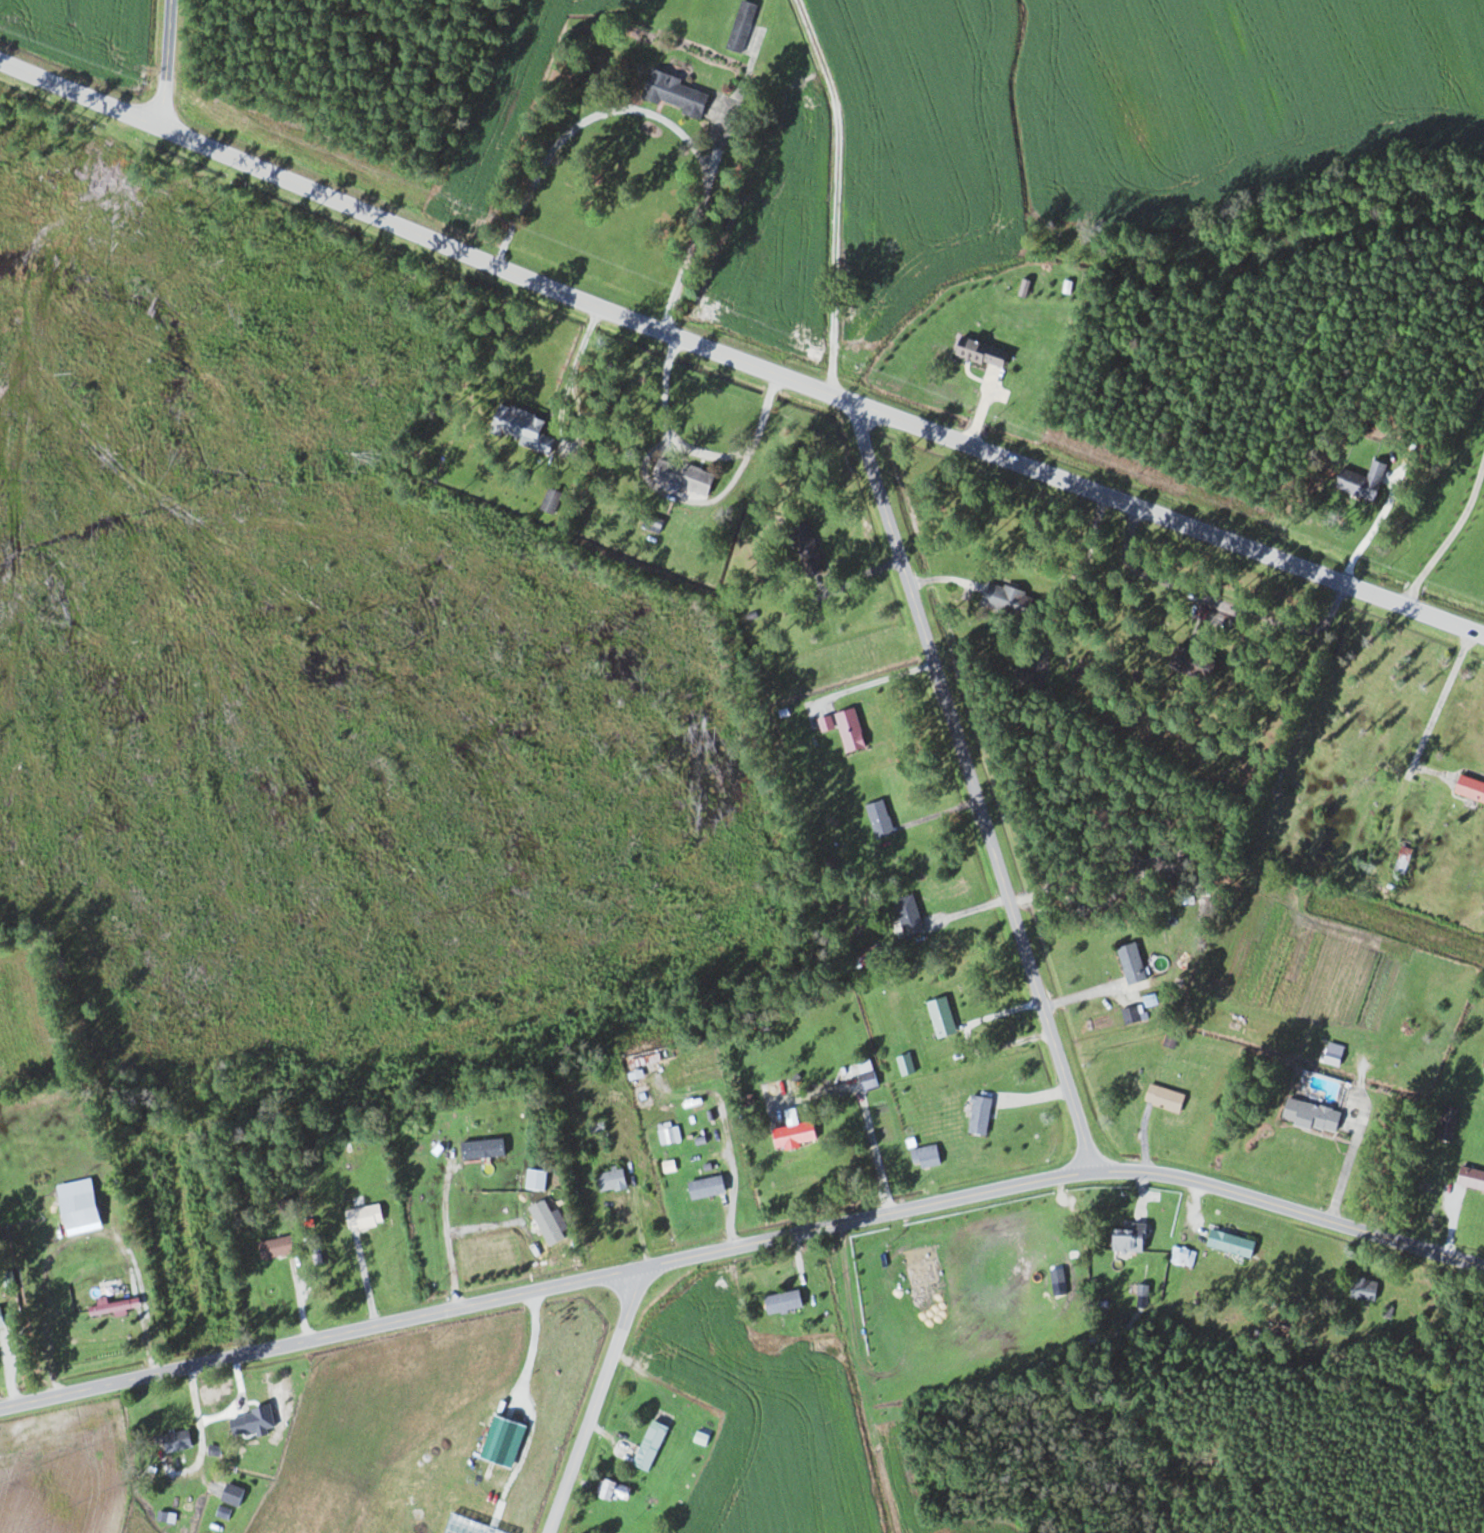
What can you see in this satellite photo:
building: (741, 26)
road: (162, 62)
building: (674, 93)
building: (980, 352)
road: (737, 358)
building: (519, 427)
building: (681, 475)
building: (1361, 480)
building: (805, 550)
building: (1008, 599)
building: (1189, 662)
building: (1025, 681)
building: (826, 723)
building: (849, 730)
road: (973, 785)
building: (1470, 787)
building: (879, 819)
building: (908, 915)
building: (1131, 963)
building: (941, 1016)
building: (905, 1063)
building: (868, 1079)
building: (1164, 1096)
building: (689, 1104)
building: (978, 1114)
building: (1311, 1114)
building: (1447, 1122)
building: (793, 1130)
building: (672, 1134)
building: (482, 1148)
building: (925, 1155)
building: (1470, 1177)
building: (535, 1179)
building: (609, 1179)
building: (705, 1186)
building: (76, 1206)
building: (363, 1215)
building: (1128, 1237)
road: (743, 1242)
building: (1230, 1242)
building: (274, 1246)
building: (1183, 1255)
building: (107, 1287)
building: (1364, 1287)
building: (782, 1301)
building: (108, 1306)
building: (0, 1322)
road: (595, 1400)
building: (259, 1419)
building: (174, 1441)
building: (649, 1445)
building: (614, 1490)
building: (231, 1494)
building: (613, 1531)

